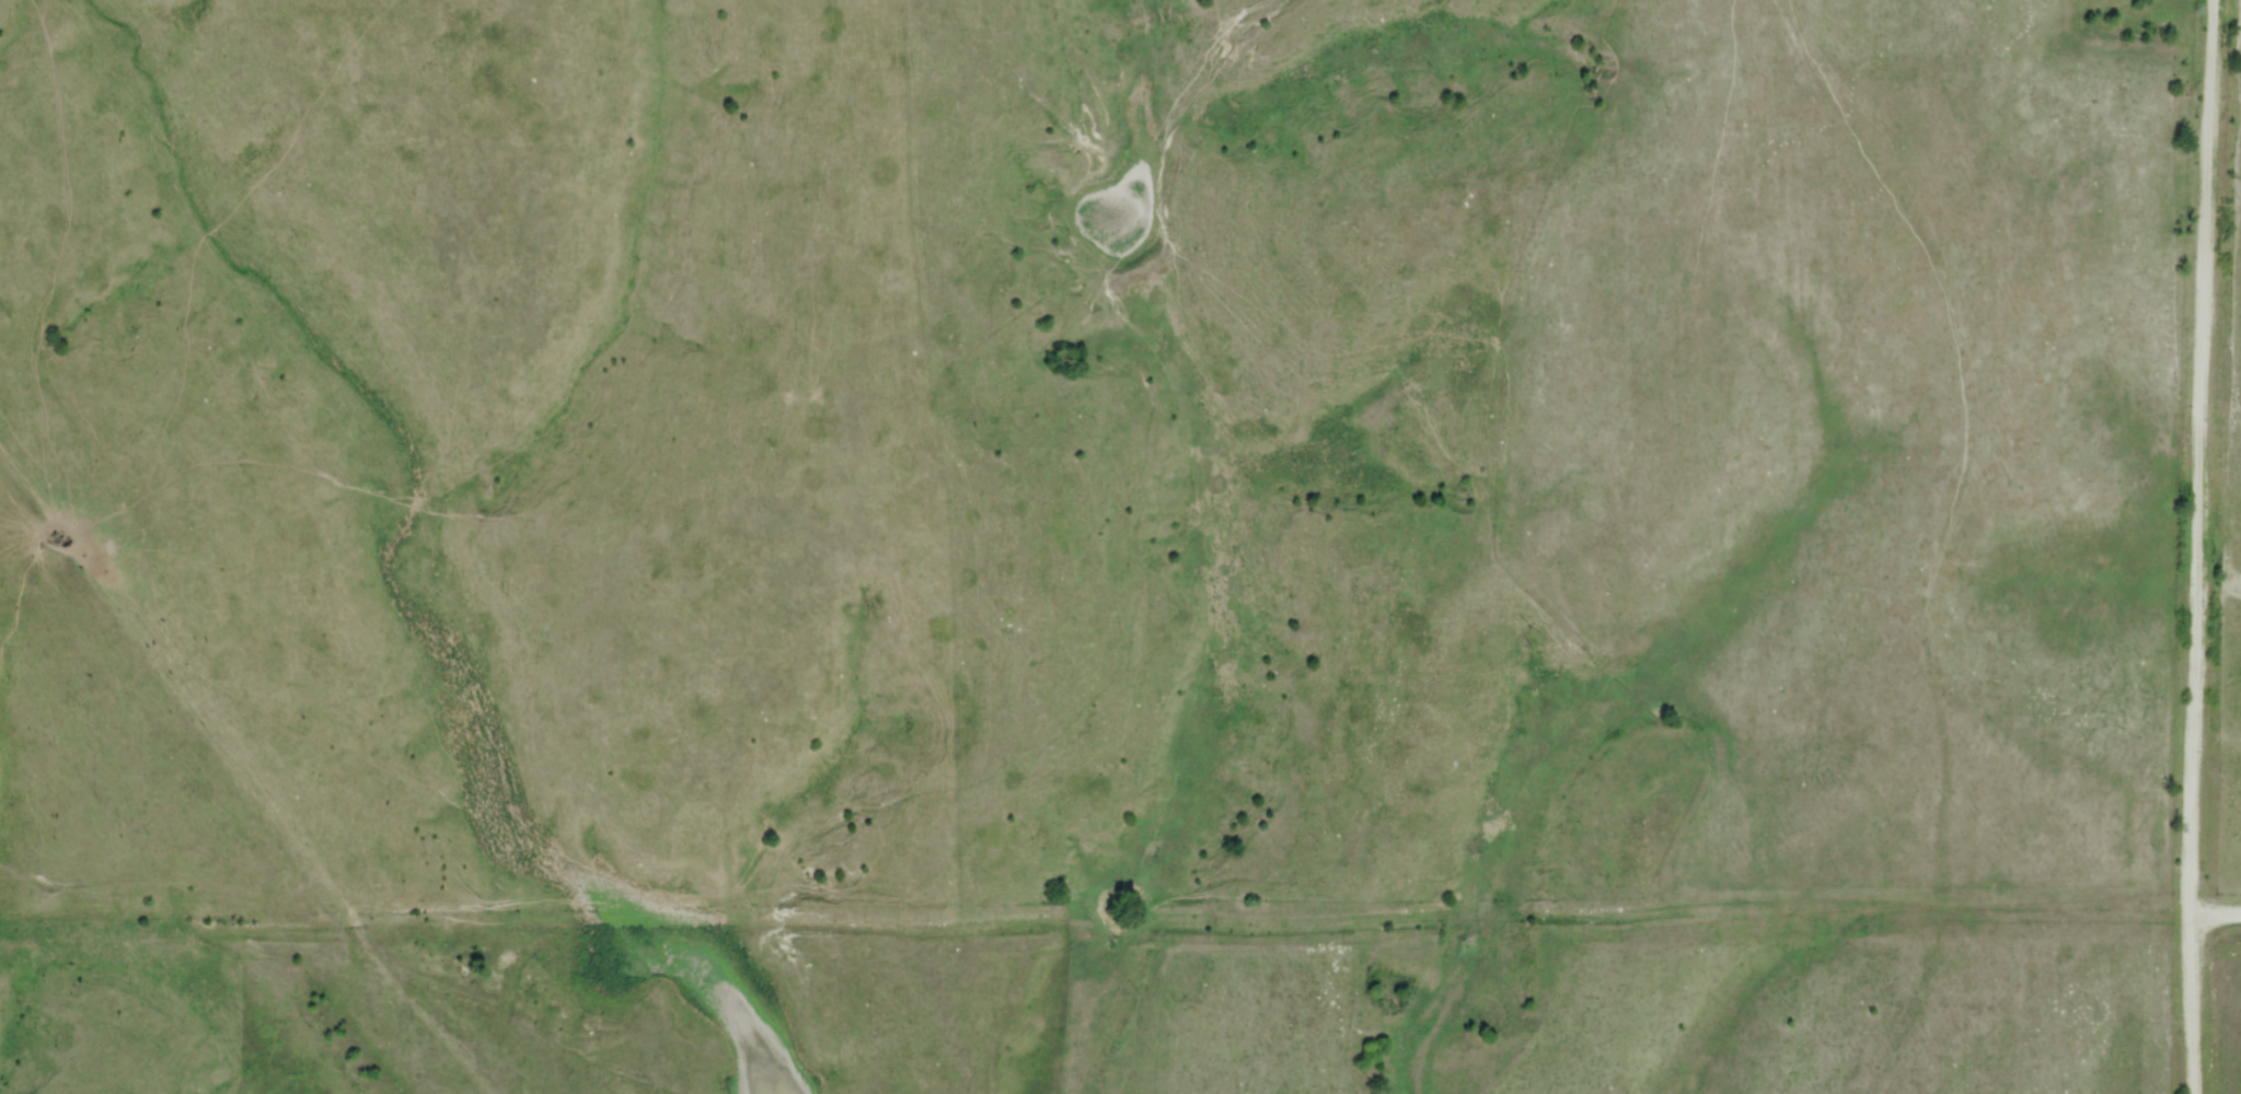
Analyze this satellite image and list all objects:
road: (2197, 546)
road: (2217, 916)

